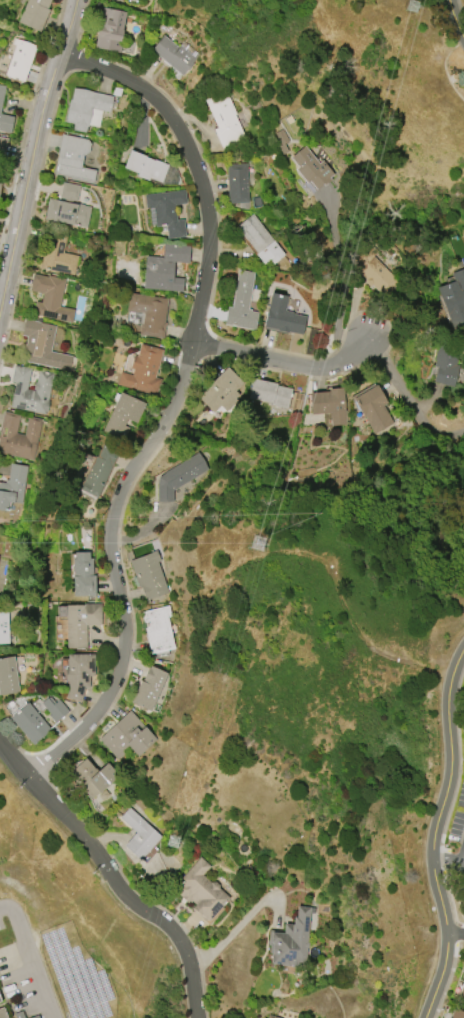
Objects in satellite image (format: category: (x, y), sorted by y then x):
power tower: (419, 6)
road: (456, 12)
building: (35, 13)
building: (111, 31)
building: (174, 54)
building: (19, 60)
building: (1, 93)
building: (85, 107)
building: (224, 119)
building: (5, 123)
building: (2, 145)
road: (37, 158)
building: (72, 159)
building: (145, 166)
building: (311, 168)
building: (237, 183)
building: (0, 184)
building: (68, 208)
building: (167, 210)
building: (259, 240)
building: (57, 255)
building: (372, 268)
building: (164, 269)
road: (343, 278)
building: (50, 298)
building: (453, 301)
building: (242, 303)
building: (149, 313)
building: (282, 316)
building: (43, 346)
road: (284, 360)
building: (445, 363)
building: (143, 371)
building: (31, 390)
building: (221, 391)
building: (269, 393)
road: (409, 397)
road: (175, 404)
building: (329, 404)
building: (373, 408)
building: (123, 414)
building: (18, 436)
building: (99, 470)
building: (178, 476)
building: (13, 486)
power tower: (326, 519)
power tower: (263, 544)
building: (81, 574)
building: (149, 575)
building: (79, 622)
building: (3, 626)
building: (157, 630)
building: (78, 674)
building: (7, 676)
building: (148, 688)
building: (53, 708)
building: (30, 723)
building: (127, 736)
building: (92, 776)
road: (433, 833)
building: (139, 834)
power tower: (177, 843)
road: (448, 860)
road: (109, 876)
building: (201, 892)
road: (4, 908)
road: (240, 922)
road: (454, 936)
building: (290, 941)
road: (29, 962)
building: (462, 992)
building: (0, 1000)
building: (2, 1013)
building: (19, 1014)
building: (457, 1014)
building: (35, 1017)
building: (267, 1017)
building: (271, 1017)

